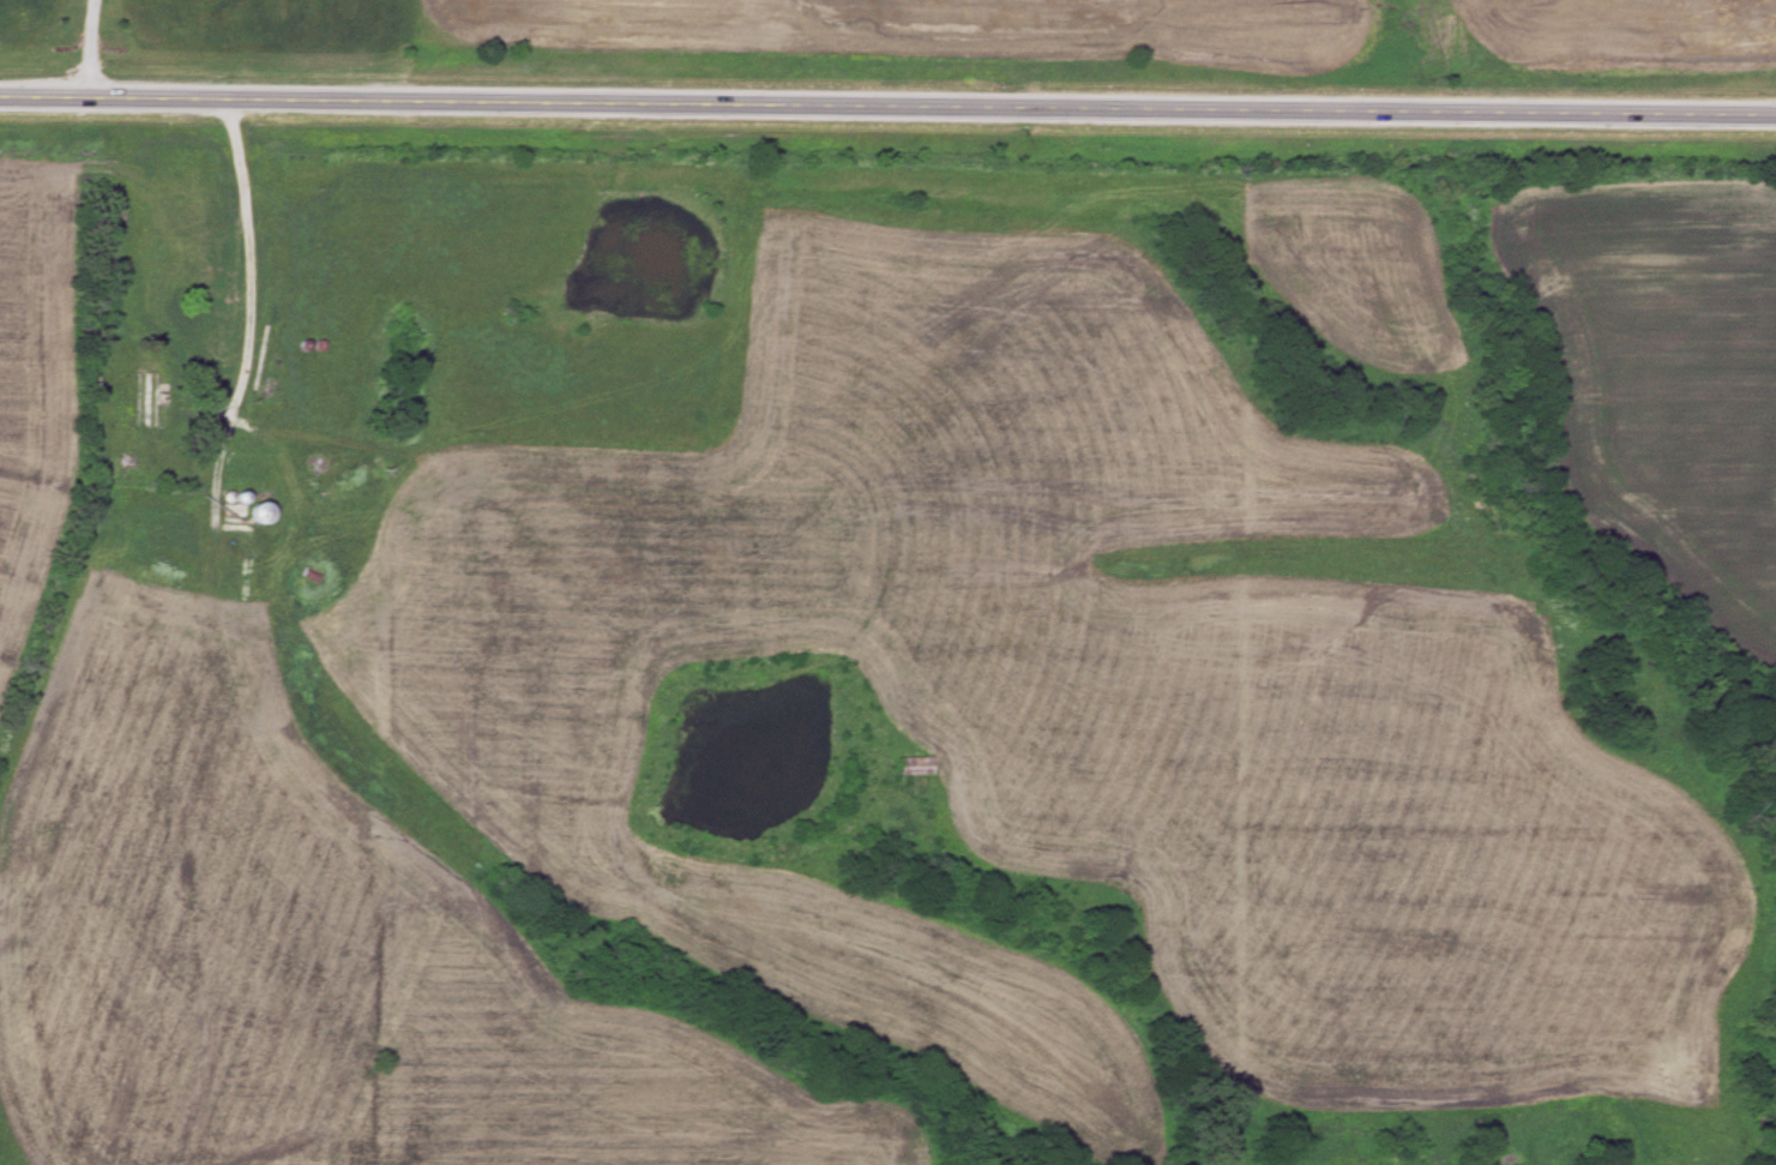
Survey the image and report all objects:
road: (88, 46)
road: (887, 100)
road: (230, 280)
building: (146, 398)
building: (264, 512)
building: (917, 765)

